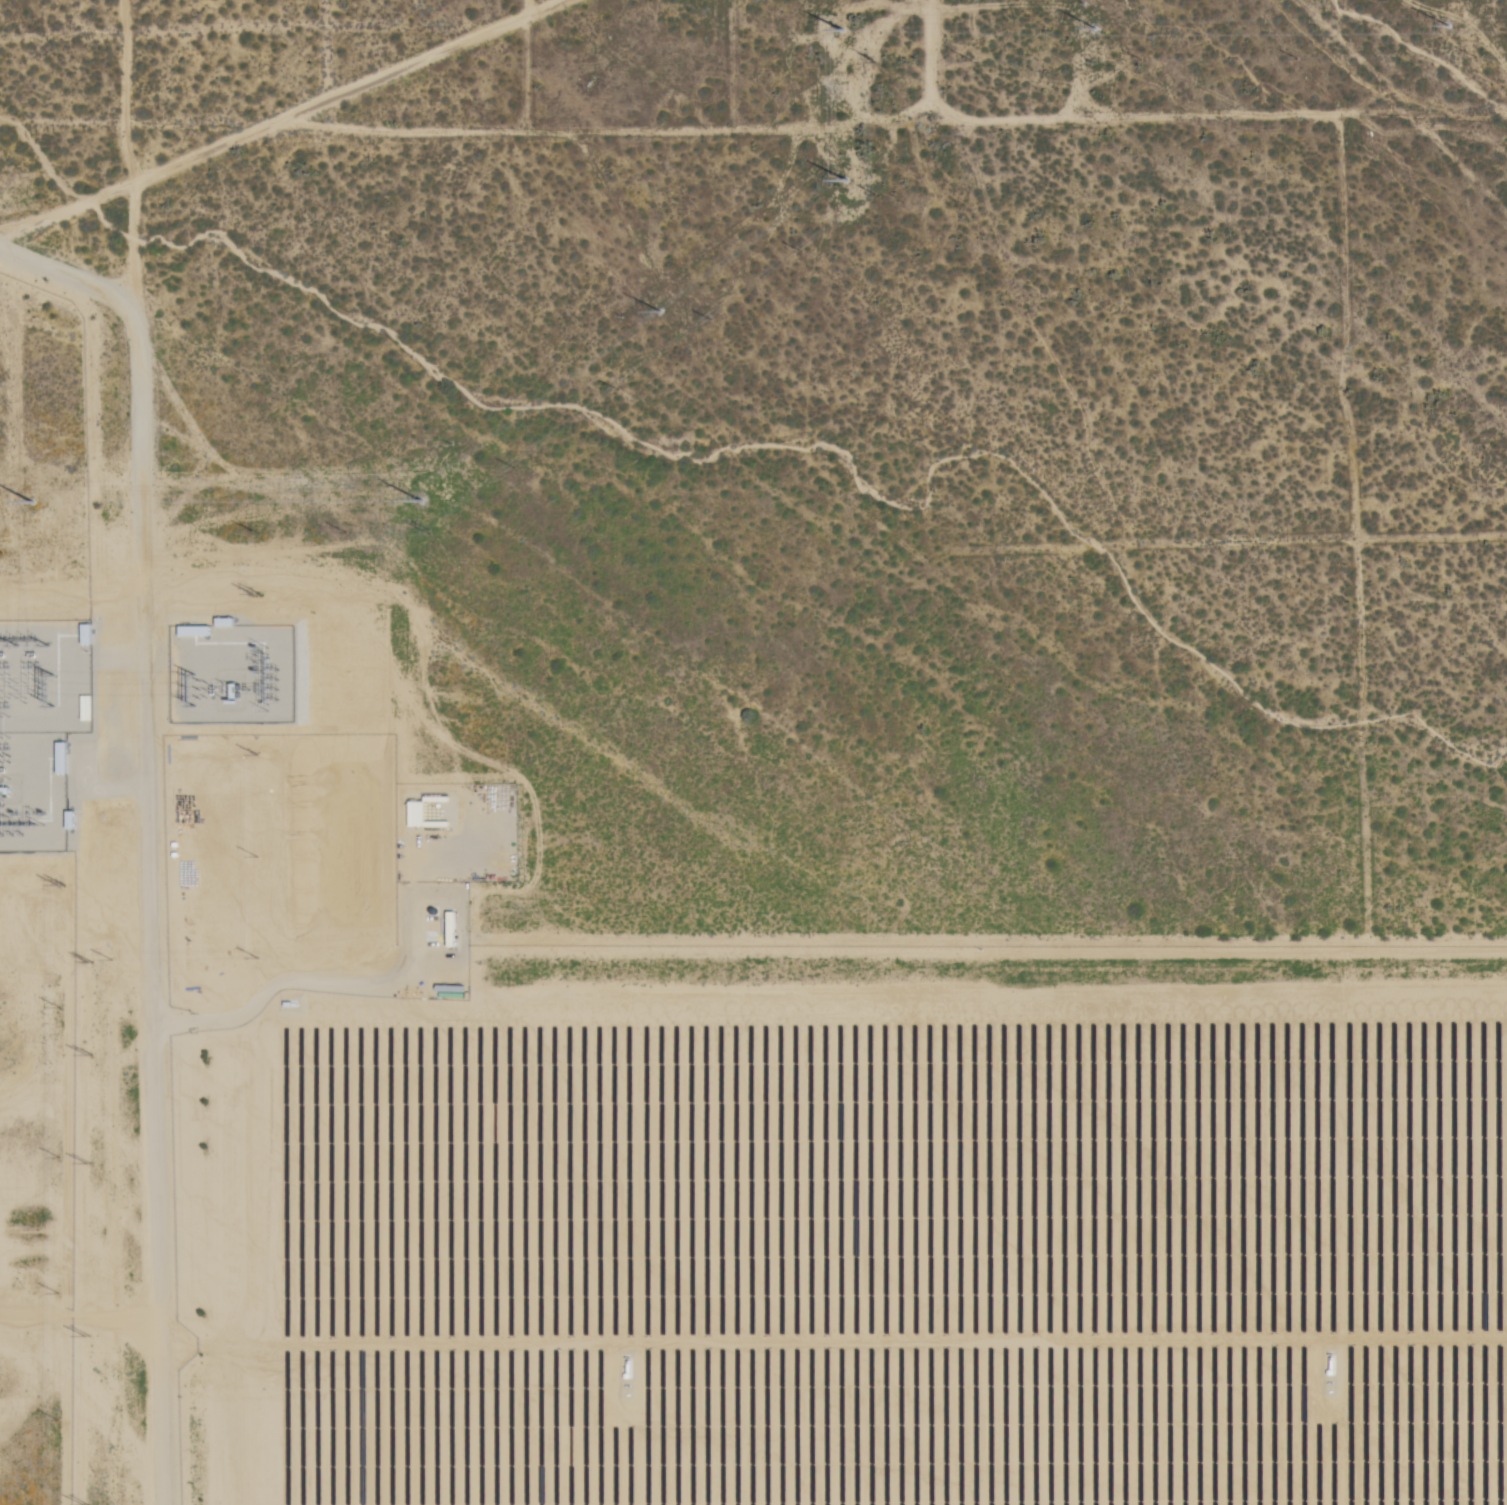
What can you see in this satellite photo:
road: (126, 25)
road: (297, 124)
road: (925, 133)
road: (395, 145)
road: (68, 288)
building: (84, 634)
power substation: (234, 673)
power substation: (42, 726)
building: (59, 757)
building: (414, 814)
road: (148, 849)
solar farm: (843, 1227)
solar farm: (37, 1232)

